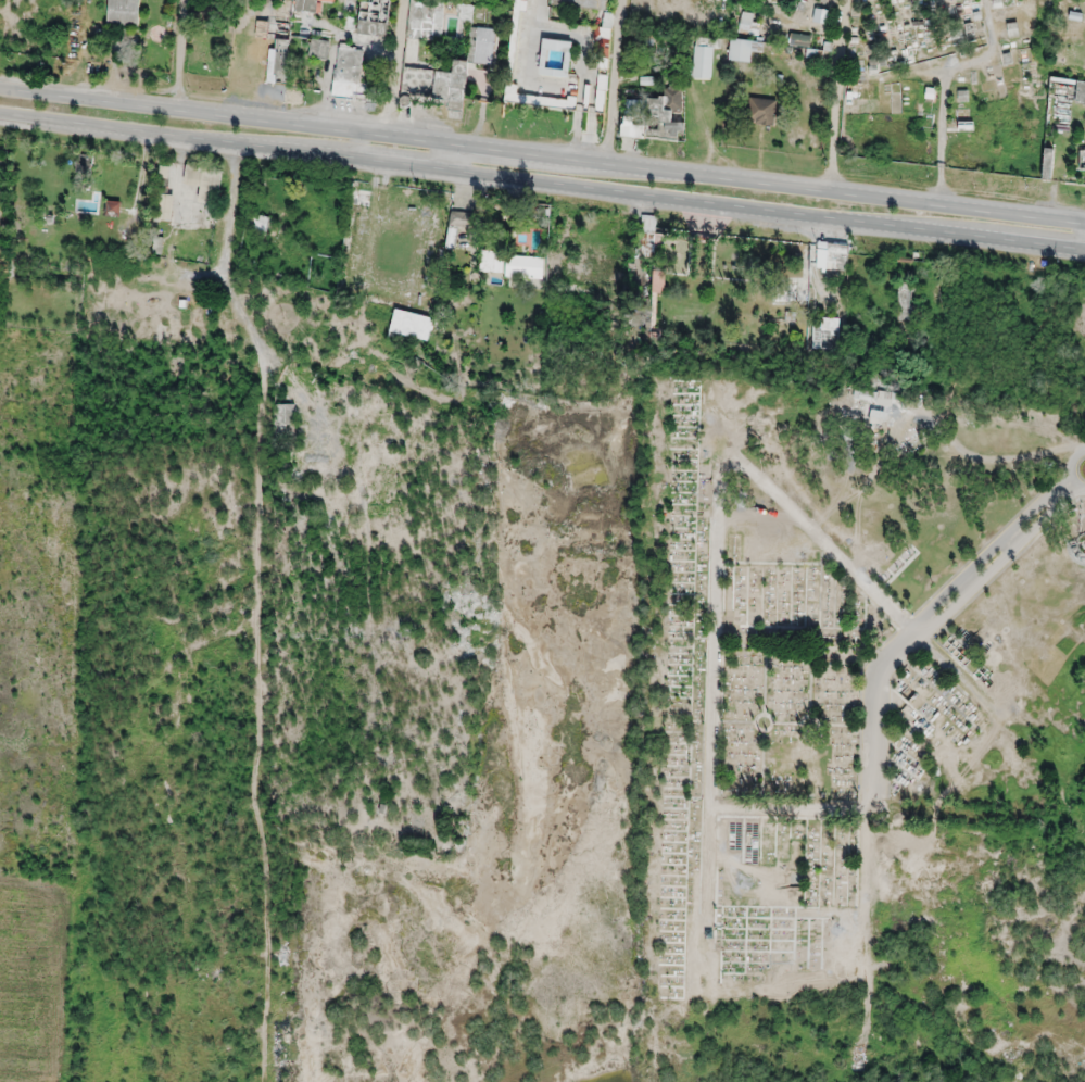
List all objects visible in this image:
building: (558, 58)
building: (419, 79)
park: (948, 80)
building: (451, 83)
building: (527, 266)
park: (799, 679)

